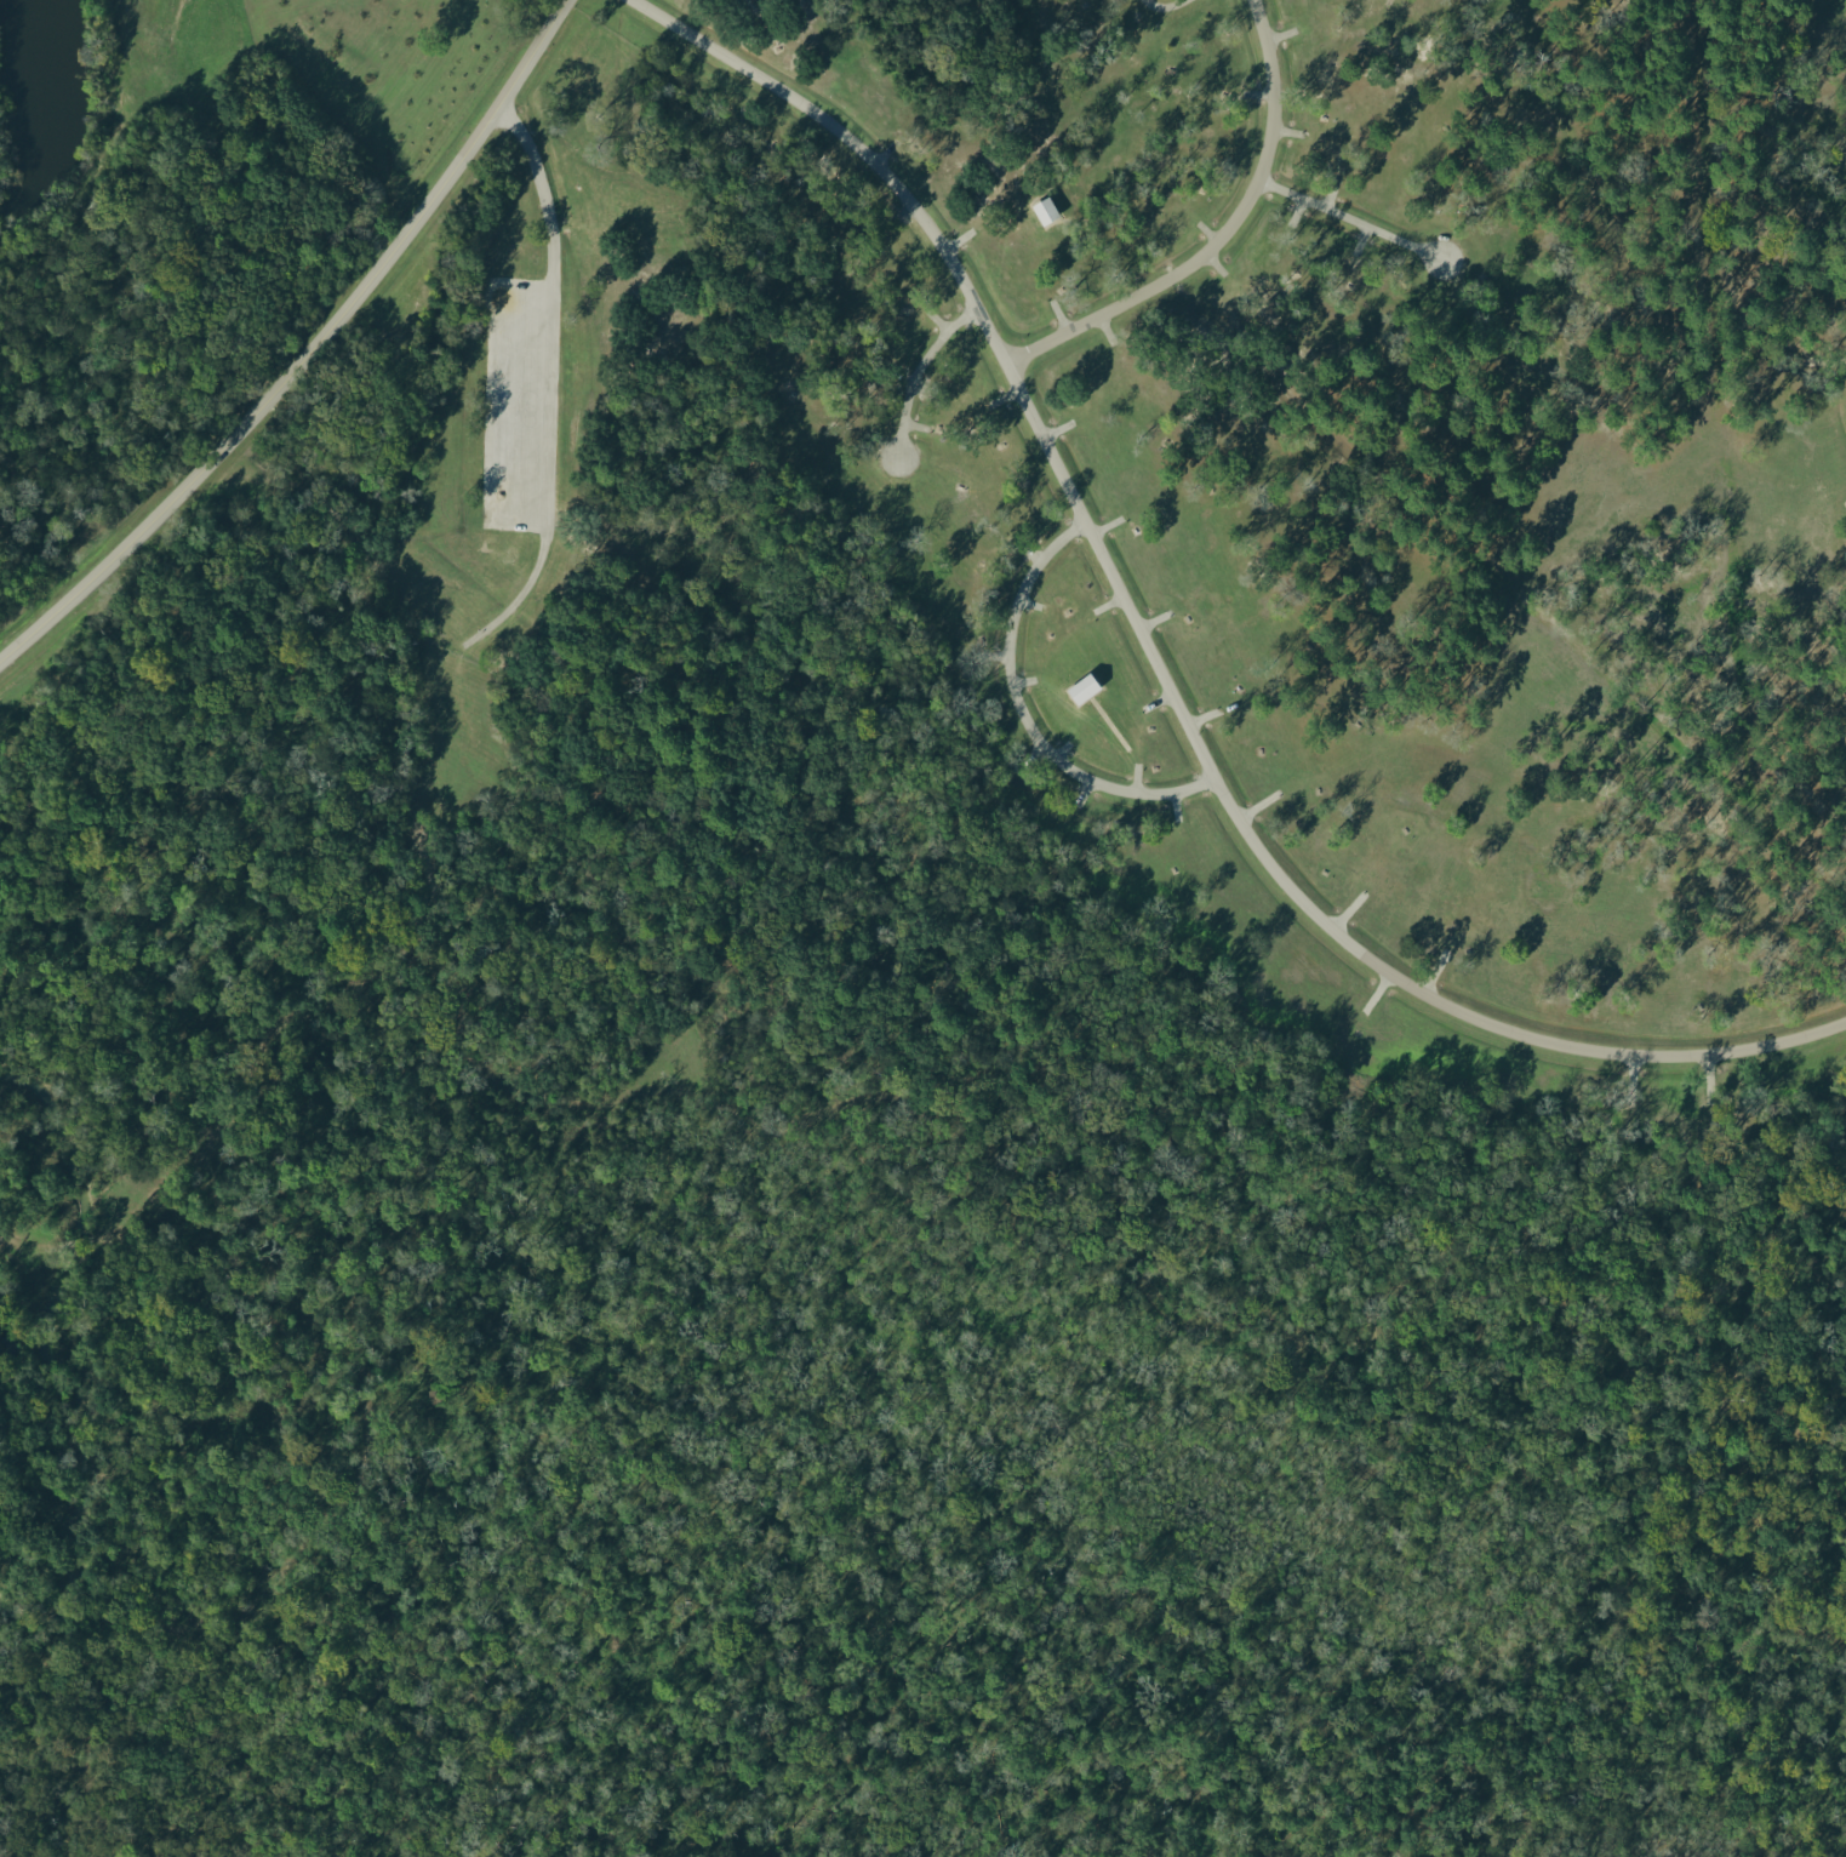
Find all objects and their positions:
road: (1167, 7)
park: (350, 18)
road: (1279, 33)
road: (1040, 73)
park: (229, 85)
road: (1257, 92)
road: (1288, 131)
road: (881, 152)
road: (102, 156)
road: (1327, 193)
road: (1698, 205)
road: (1292, 208)
building: (1044, 211)
road: (898, 213)
road: (1354, 221)
road: (1208, 233)
road: (954, 236)
road: (1225, 239)
road: (1356, 239)
road: (1216, 264)
road: (1059, 318)
road: (936, 321)
road: (1104, 331)
road: (313, 358)
road: (1824, 361)
road: (919, 376)
road: (903, 378)
road: (545, 383)
road: (925, 388)
road: (1002, 395)
parking lot: (518, 405)
road: (914, 424)
road: (1056, 427)
road: (1844, 503)
road: (1104, 524)
road: (1028, 550)
road: (1109, 600)
road: (1030, 604)
road: (1154, 617)
park: (0, 632)
road: (457, 652)
road: (995, 655)
road: (1161, 661)
road: (1021, 680)
building: (1081, 688)
road: (1159, 699)
road: (1206, 713)
road: (1027, 716)
road: (1110, 728)
road: (1059, 748)
road: (1030, 753)
road: (1133, 776)
road: (1080, 789)
road: (1257, 804)
road: (1172, 805)
road: (1344, 908)
park: (922, 928)
road: (1431, 971)
road: (1373, 990)
road: (305, 1021)
road: (1628, 1081)
road: (1707, 1084)
river: (41, 1353)

